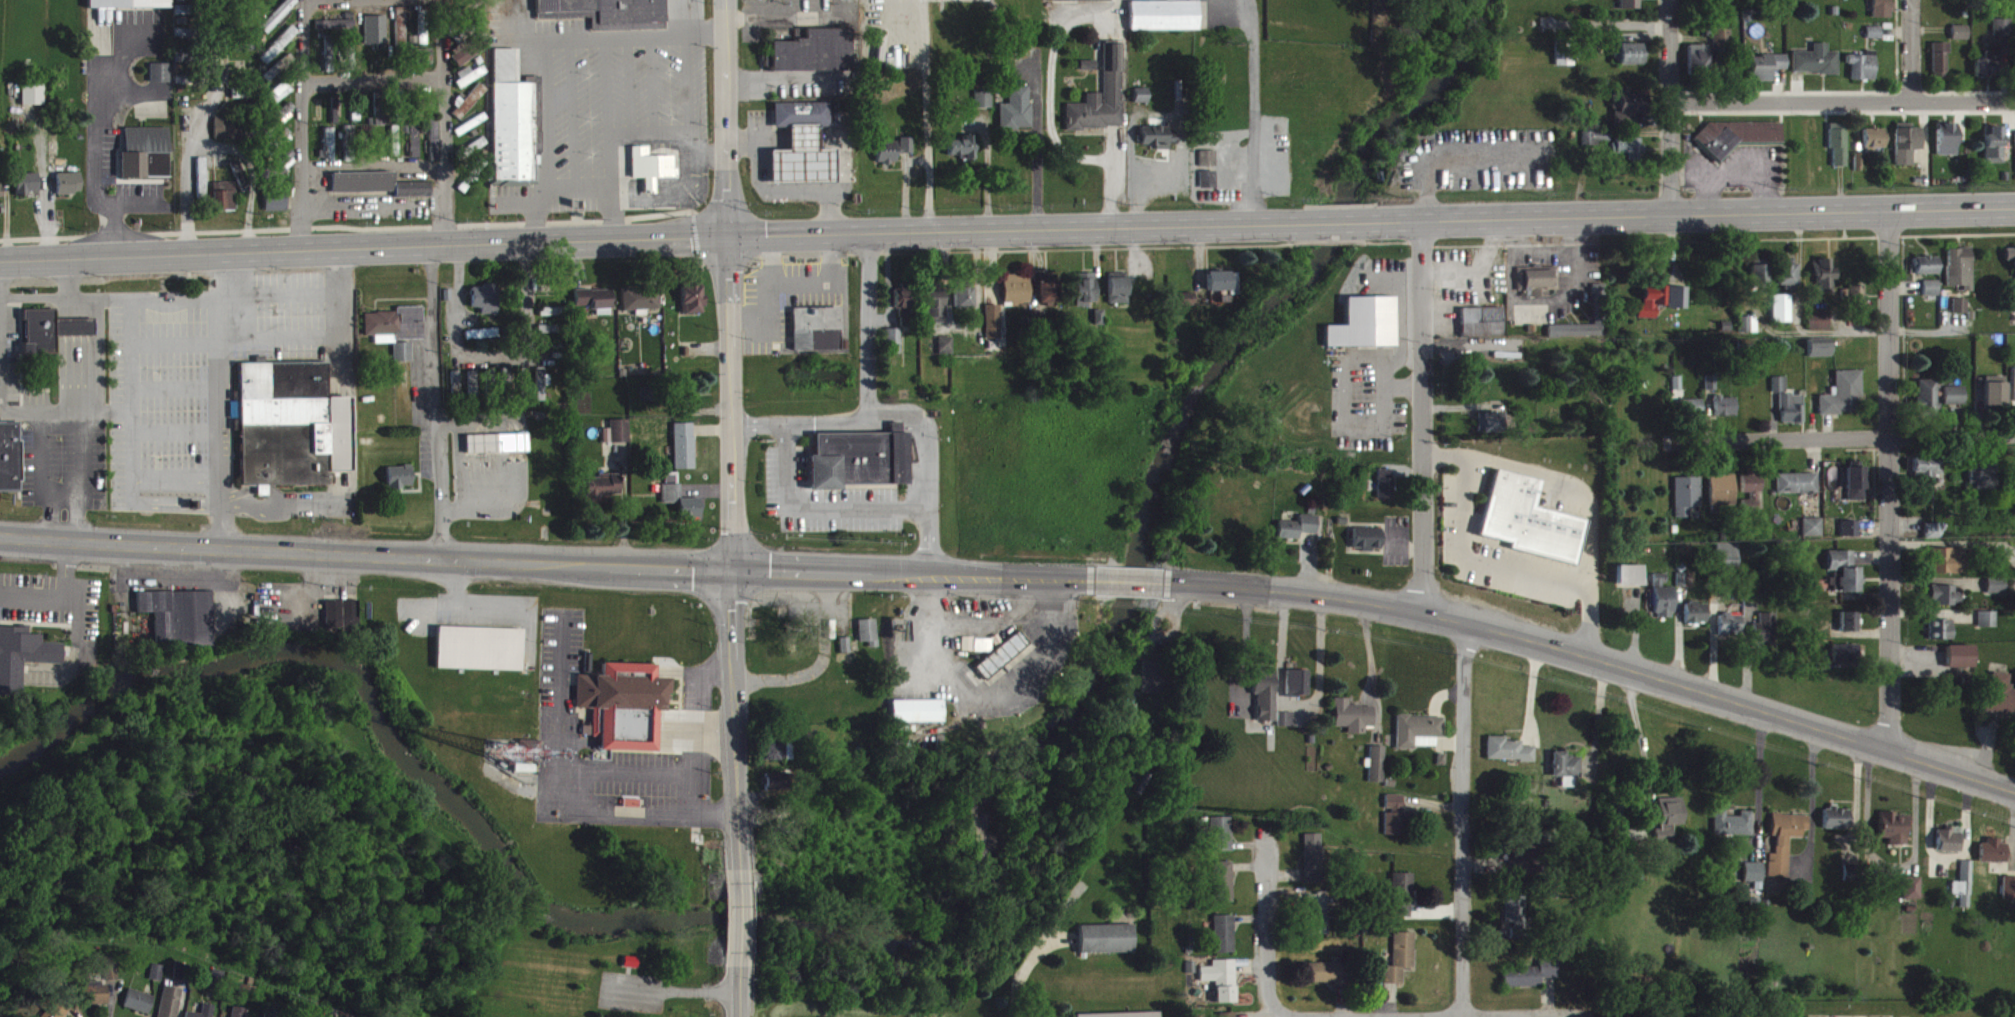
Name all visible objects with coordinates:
building: (1083, 4)
building: (130, 8)
building: (1631, 8)
building: (1884, 14)
building: (608, 16)
building: (279, 22)
road: (689, 22)
building: (1164, 23)
building: (336, 33)
building: (425, 34)
building: (2003, 36)
building: (376, 37)
road: (518, 37)
building: (1961, 40)
building: (1874, 41)
road: (707, 44)
road: (618, 45)
building: (1722, 47)
building: (411, 49)
road: (1912, 50)
building: (280, 53)
building: (469, 59)
building: (813, 59)
building: (328, 61)
building: (1631, 62)
building: (1699, 65)
building: (349, 67)
building: (1941, 68)
building: (1817, 69)
building: (1089, 73)
building: (1991, 73)
building: (1768, 74)
building: (1863, 75)
building: (161, 80)
road: (372, 80)
road: (923, 80)
building: (470, 83)
road: (690, 92)
road: (631, 93)
road: (655, 93)
road: (608, 94)
building: (282, 98)
building: (243, 100)
road: (1843, 100)
building: (34, 101)
building: (1141, 103)
building: (1103, 104)
building: (984, 107)
road: (1671, 107)
building: (470, 109)
road: (1254, 109)
building: (797, 112)
building: (1629, 115)
road: (725, 116)
building: (1017, 117)
building: (336, 118)
building: (356, 119)
road: (443, 122)
building: (283, 123)
road: (548, 123)
road: (301, 125)
building: (514, 126)
road: (199, 127)
building: (228, 136)
road: (768, 136)
road: (799, 136)
road: (1055, 140)
road: (623, 142)
building: (1737, 143)
building: (1160, 144)
building: (284, 146)
building: (1597, 146)
building: (1874, 147)
building: (1947, 147)
building: (434, 148)
road: (1034, 148)
building: (1839, 152)
building: (1907, 152)
building: (330, 153)
building: (477, 153)
building: (907, 153)
building: (1994, 153)
building: (964, 155)
building: (798, 156)
building: (1629, 157)
road: (839, 159)
road: (916, 159)
building: (887, 160)
building: (146, 161)
road: (712, 161)
road: (373, 167)
building: (284, 172)
road: (250, 174)
building: (652, 175)
building: (240, 184)
building: (27, 191)
building: (70, 191)
building: (375, 192)
road: (768, 192)
road: (574, 198)
building: (2, 200)
building: (224, 203)
road: (688, 205)
building: (277, 207)
road: (370, 211)
road: (519, 212)
road: (1699, 216)
road: (1342, 221)
road: (1011, 227)
traffic signals: (724, 233)
road: (362, 247)
road: (766, 257)
building: (2010, 262)
building: (1928, 274)
building: (1961, 276)
road: (791, 282)
building: (1787, 282)
building: (1825, 283)
building: (1761, 284)
building: (1539, 289)
building: (1223, 290)
road: (338, 295)
building: (1119, 296)
building: (1932, 296)
road: (285, 297)
building: (1017, 297)
building: (1087, 297)
road: (53, 298)
road: (182, 299)
building: (1048, 299)
building: (1858, 301)
building: (965, 305)
building: (1679, 305)
building: (486, 306)
building: (596, 307)
building: (641, 307)
building: (693, 307)
building: (1185, 307)
building: (1652, 309)
building: (904, 312)
building: (935, 312)
building: (1961, 314)
building: (1782, 316)
building: (555, 320)
building: (1100, 325)
road: (868, 328)
building: (1819, 328)
building: (994, 330)
building: (1482, 330)
building: (1365, 331)
building: (396, 332)
building: (549, 337)
building: (818, 337)
building: (51, 339)
road: (279, 342)
building: (485, 342)
road: (175, 343)
building: (894, 349)
building: (946, 354)
road: (492, 355)
building: (1820, 358)
building: (404, 360)
road: (98, 366)
road: (132, 373)
building: (493, 387)
building: (542, 391)
building: (1711, 391)
building: (475, 393)
building: (1995, 399)
road: (219, 400)
road: (435, 402)
building: (1844, 402)
building: (1955, 403)
building: (686, 404)
building: (1927, 405)
building: (1686, 410)
building: (1789, 410)
road: (107, 411)
road: (3, 412)
road: (902, 414)
building: (1726, 414)
road: (1421, 418)
building: (1491, 430)
building: (293, 433)
road: (1850, 439)
building: (617, 440)
building: (499, 451)
building: (684, 454)
building: (854, 457)
road: (457, 464)
building: (11, 465)
road: (83, 477)
building: (1927, 477)
road: (175, 480)
road: (1891, 483)
road: (340, 484)
building: (1984, 484)
building: (400, 485)
building: (1798, 491)
building: (1387, 492)
building: (1856, 492)
building: (603, 494)
road: (58, 497)
road: (192, 497)
building: (1723, 498)
building: (1753, 500)
building: (1688, 503)
road: (164, 504)
road: (815, 508)
building: (682, 510)
road: (51, 519)
building: (1532, 528)
building: (1299, 535)
building: (1813, 535)
building: (1851, 537)
building: (1934, 539)
building: (1368, 547)
road: (731, 549)
road: (1495, 561)
building: (1727, 561)
road: (546, 563)
building: (1948, 569)
traffic signals: (732, 572)
road: (1131, 580)
building: (1844, 580)
building: (1631, 583)
building: (1997, 593)
building: (1946, 604)
building: (1664, 605)
road: (427, 606)
road: (500, 606)
building: (1697, 621)
building: (342, 622)
building: (179, 625)
building: (1988, 627)
building: (1848, 631)
building: (1731, 632)
building: (1766, 638)
building: (1943, 638)
building: (868, 640)
building: (978, 652)
building: (480, 657)
building: (1846, 661)
road: (1597, 662)
road: (818, 663)
building: (1001, 663)
building: (23, 664)
building: (1962, 664)
building: (1154, 685)
building: (1298, 691)
building: (1266, 702)
building: (2002, 702)
road: (1595, 713)
building: (625, 714)
building: (917, 719)
building: (1354, 724)
road: (1635, 726)
building: (1287, 727)
road: (701, 730)
road: (718, 733)
building: (1420, 739)
building: (1509, 758)
building: (531, 759)
building: (780, 760)
road: (1758, 771)
building: (1377, 772)
road: (628, 774)
building: (1566, 776)
building: (776, 790)
road: (557, 802)
road: (1462, 818)
building: (1397, 825)
building: (1838, 826)
building: (1668, 827)
building: (1734, 832)
building: (1896, 836)
building: (1222, 842)
building: (1950, 848)
building: (1786, 849)
building: (1994, 860)
building: (1523, 862)
building: (1314, 866)
building: (1754, 880)
building: (1223, 890)
building: (1965, 893)
building: (1913, 896)
building: (2009, 896)
building: (1402, 903)
building: (1516, 916)
road: (739, 917)
building: (1319, 926)
building: (1104, 937)
building: (1226, 942)
building: (1401, 966)
road: (1024, 967)
building: (155, 980)
building: (1330, 981)
building: (1532, 982)
building: (1224, 988)
road: (672, 989)
road: (739, 992)
building: (101, 994)
building: (171, 1006)
building: (139, 1008)
building: (58, 1012)
building: (1118, 1013)
building: (208, 1014)
building: (237, 1016)
building: (268, 1016)
road: (1334, 1016)

